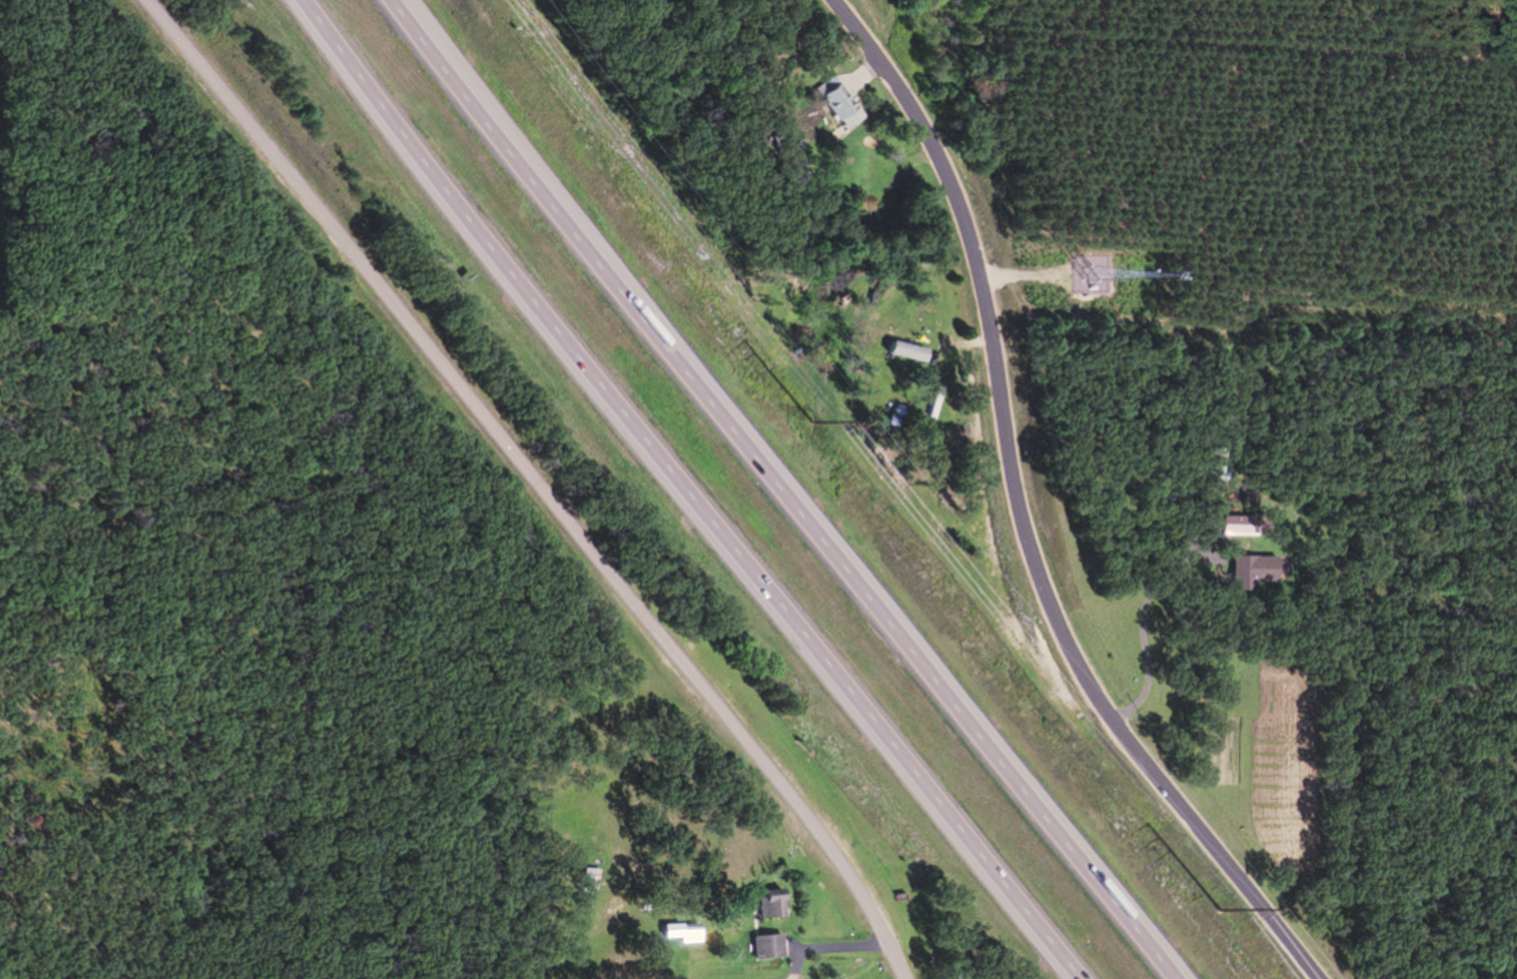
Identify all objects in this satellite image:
building: (780, 74)
building: (833, 104)
building: (901, 353)
power tower: (813, 421)
building: (1213, 463)
road: (533, 483)
road: (687, 486)
road: (792, 494)
road: (1023, 509)
building: (1234, 525)
building: (1240, 573)
road: (1136, 610)
building: (780, 905)
power tower: (1217, 909)
building: (691, 932)
building: (776, 948)

